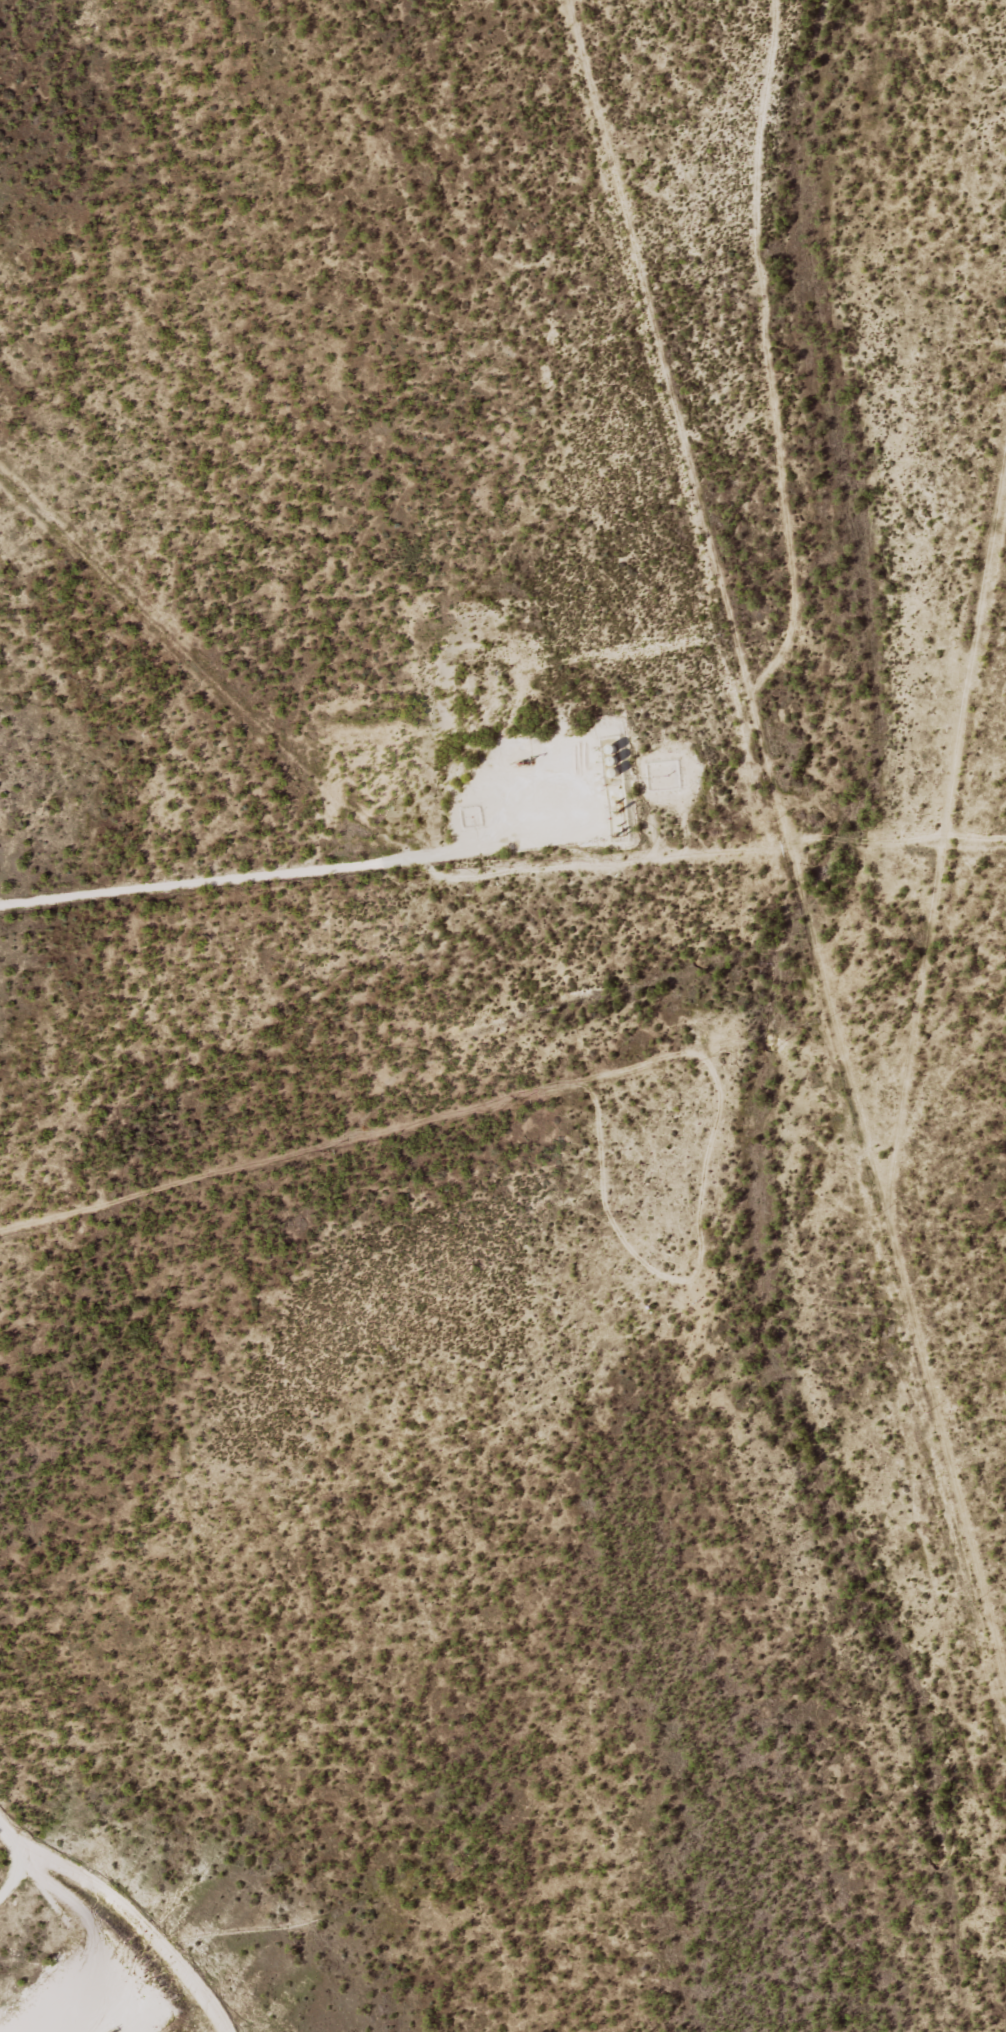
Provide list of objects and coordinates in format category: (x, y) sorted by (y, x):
road: (113, 863)
road: (939, 1114)
road: (175, 1867)

